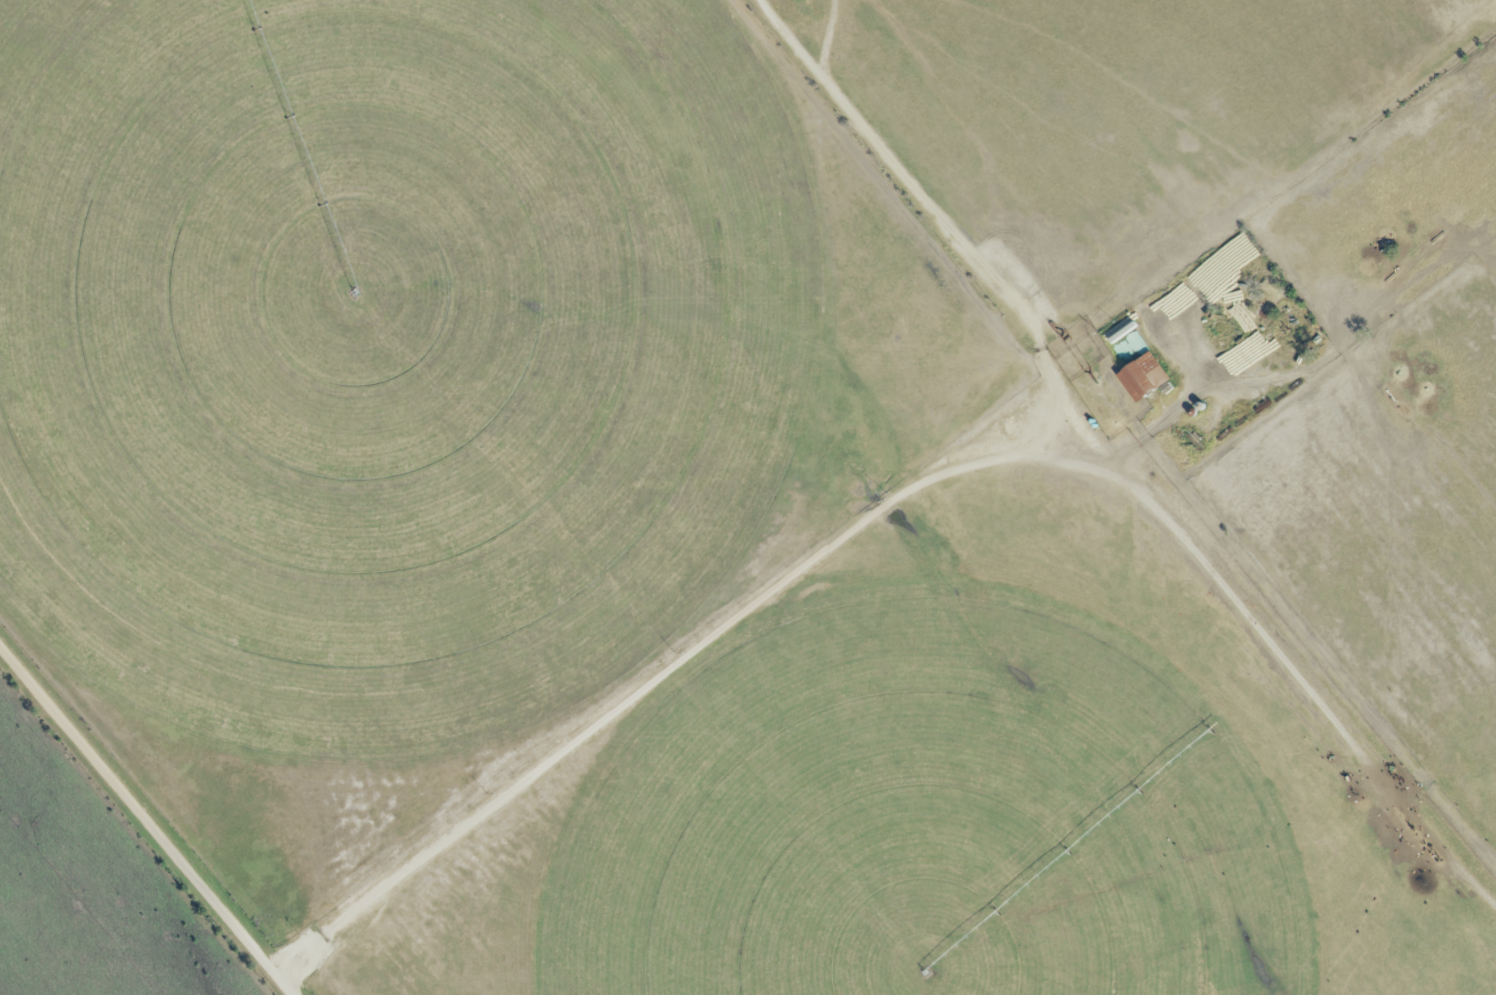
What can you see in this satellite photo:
road: (907, 166)
building: (1139, 378)
road: (685, 650)
road: (146, 820)

